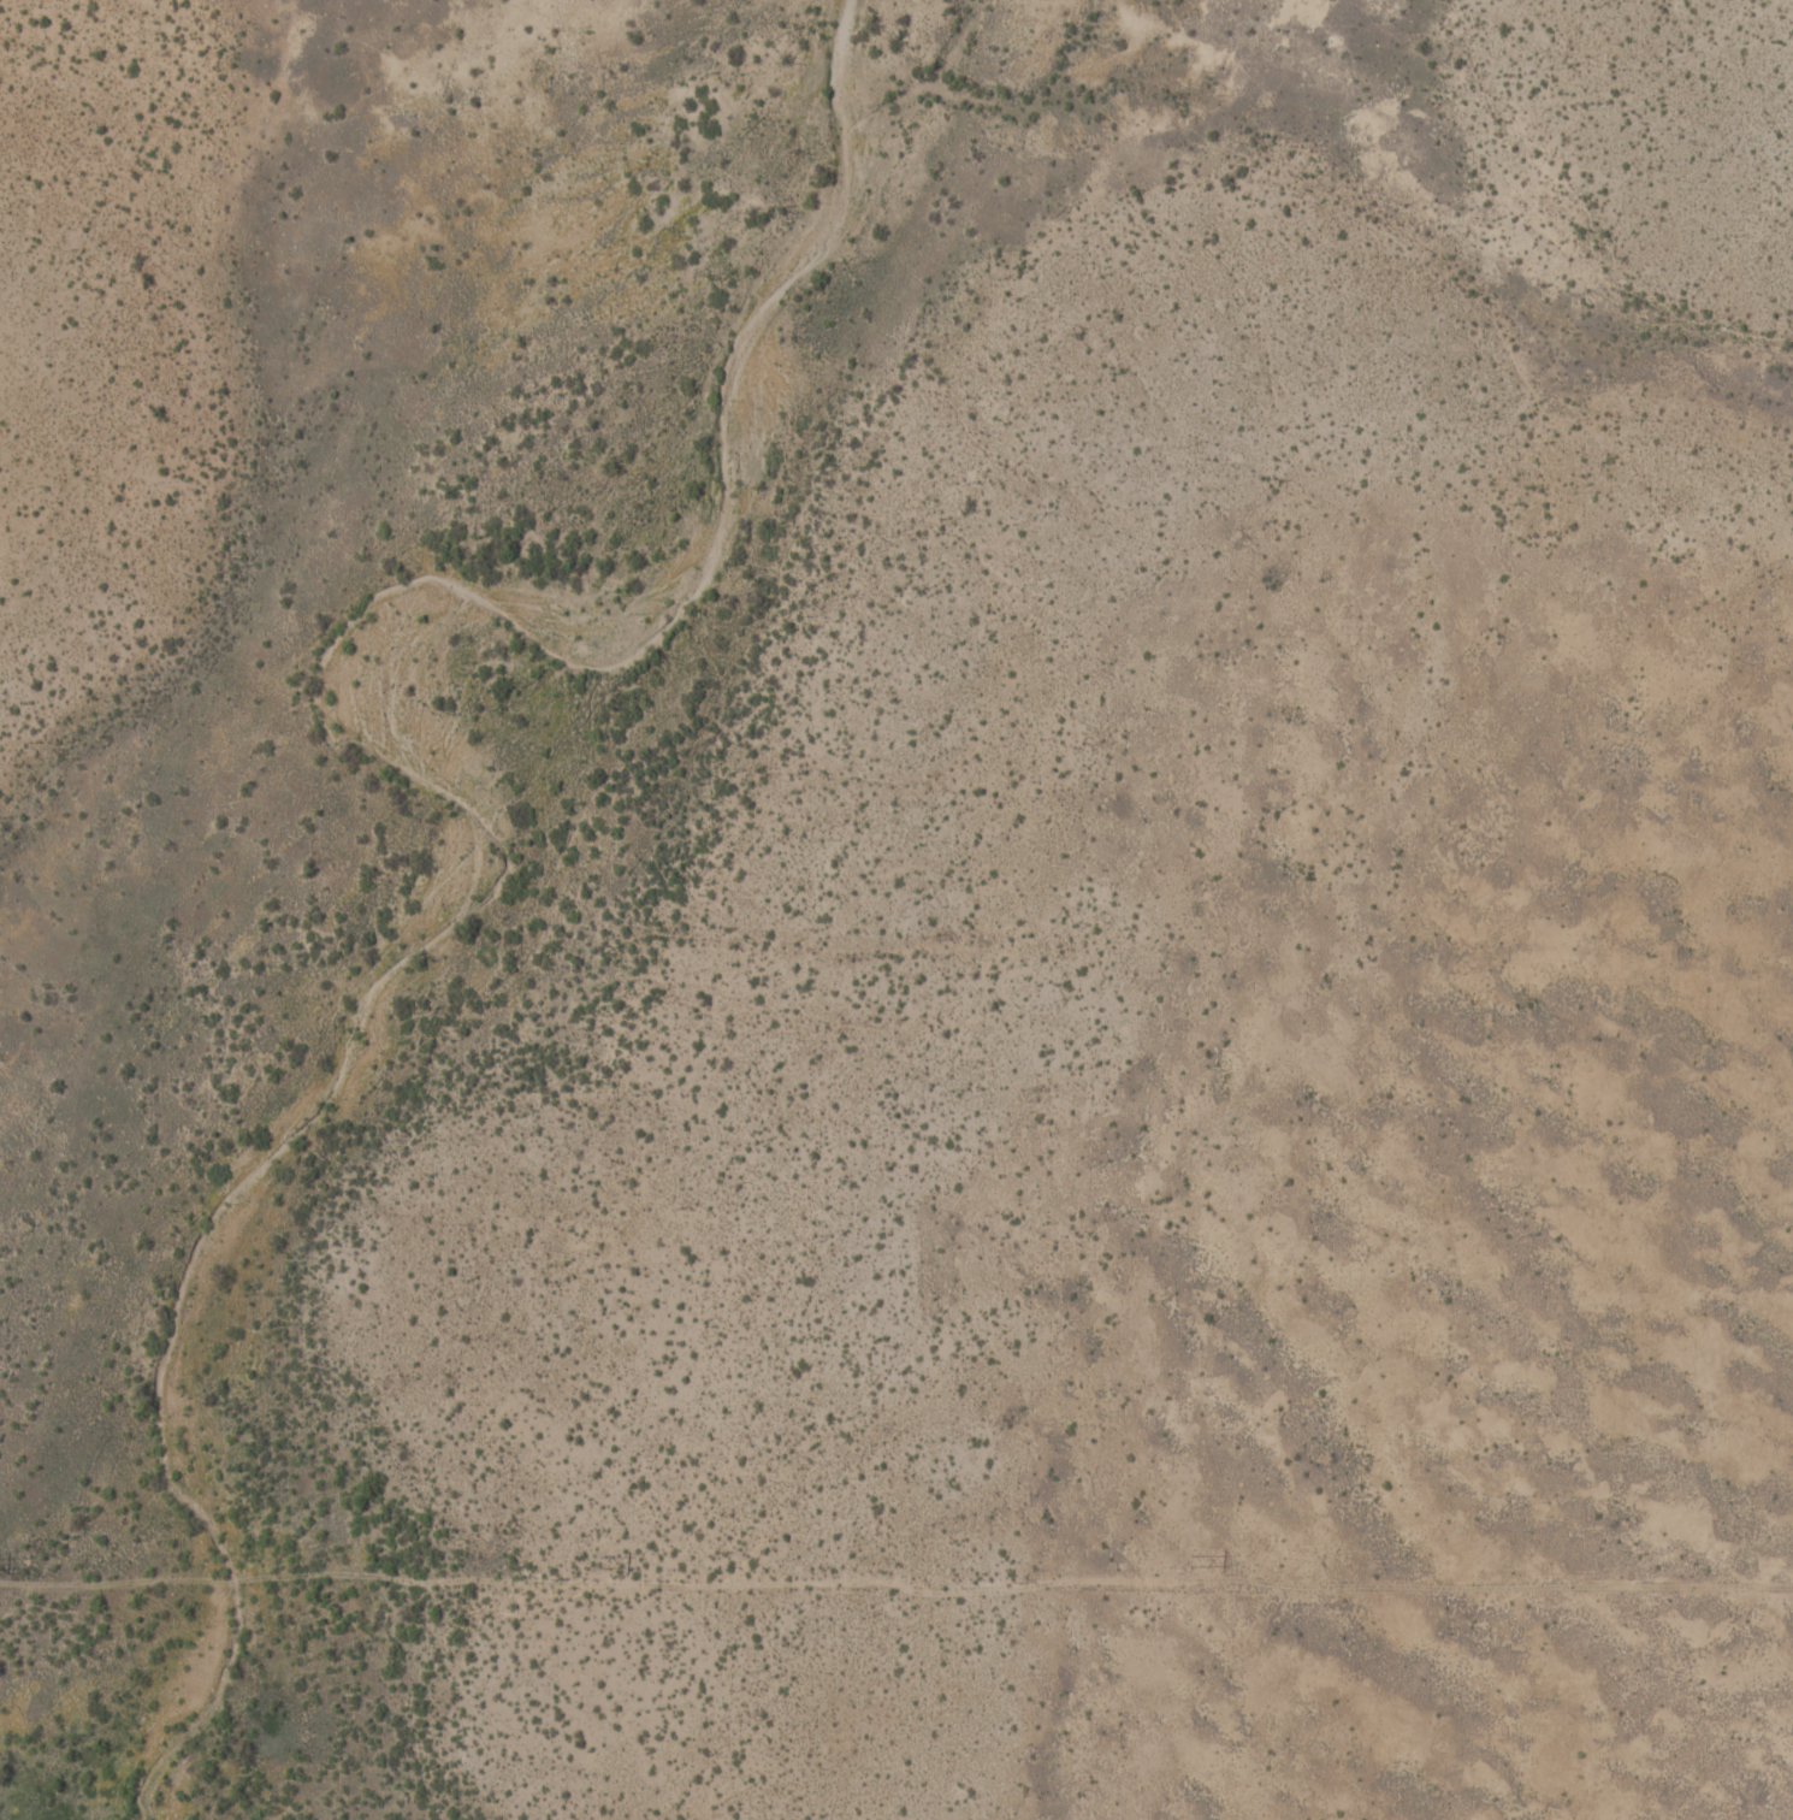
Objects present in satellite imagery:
power tower: (592, 1561)
power tower: (1179, 1562)
road: (896, 1594)

